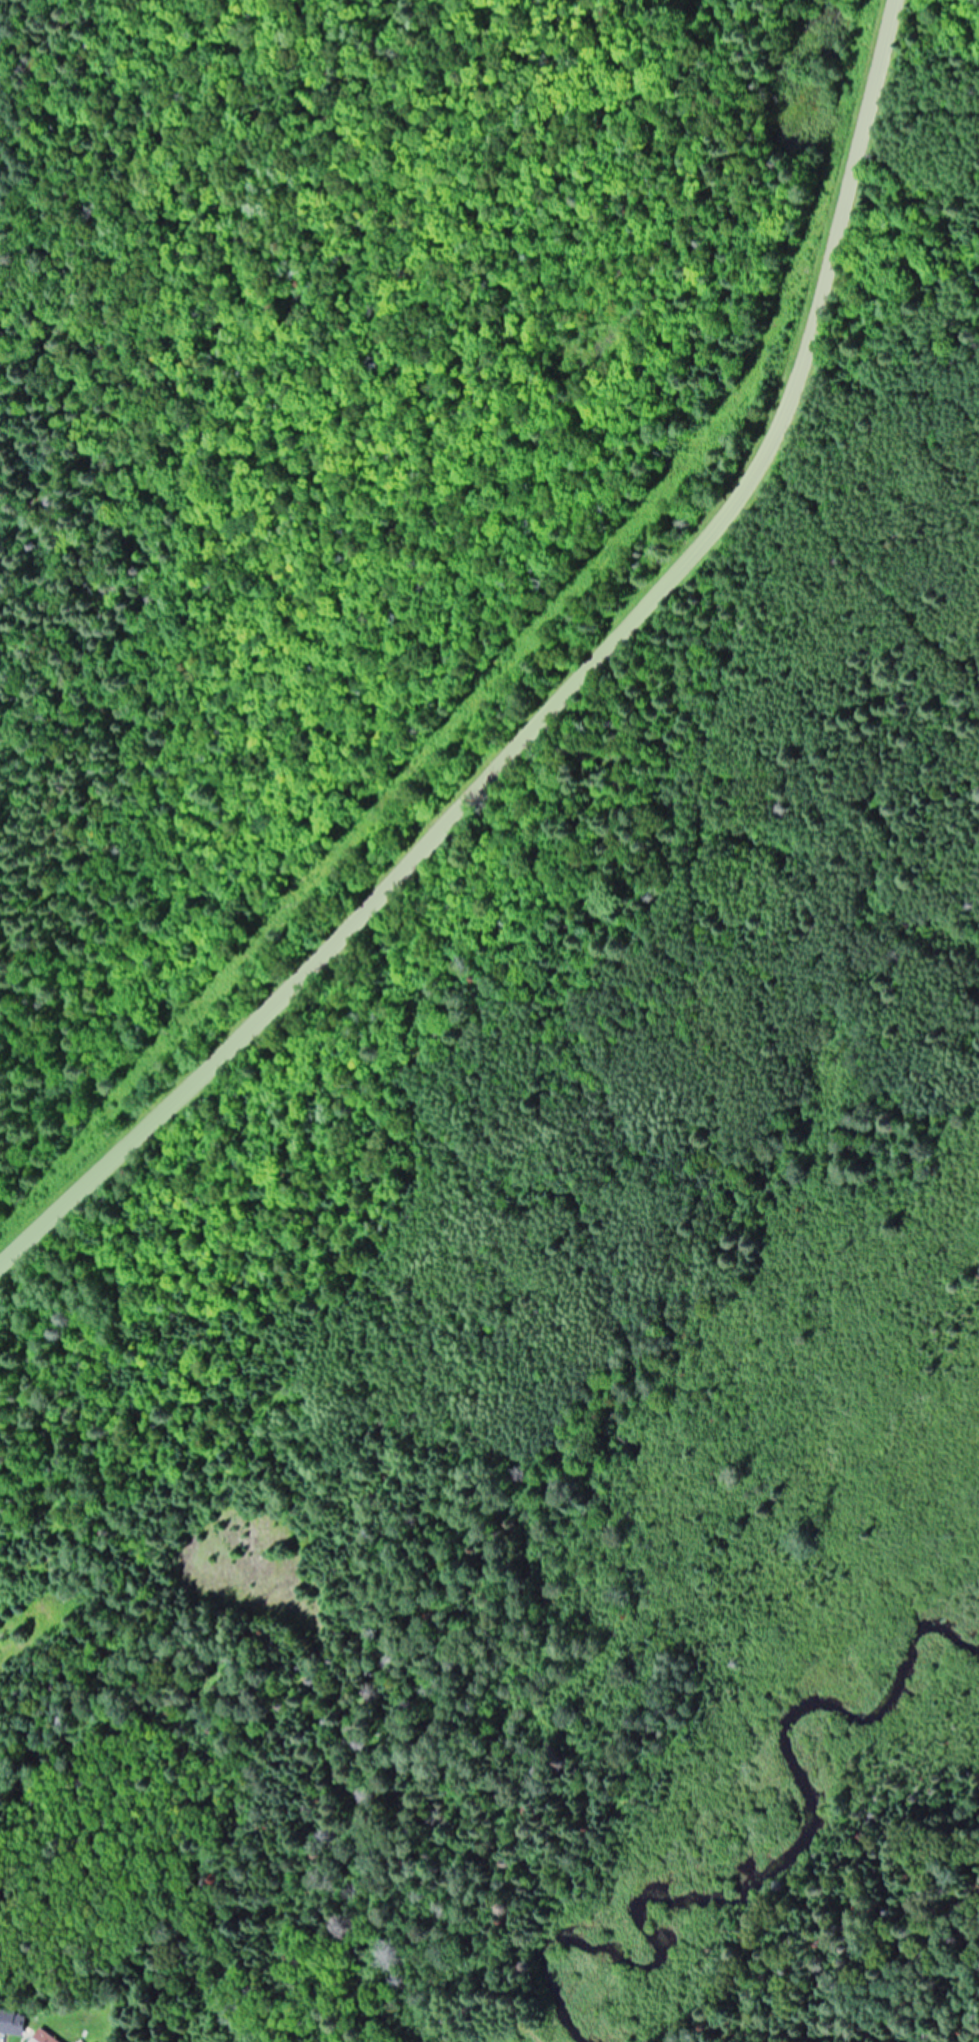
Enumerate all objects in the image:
road: (558, 702)
building: (11, 2023)
building: (42, 2038)

